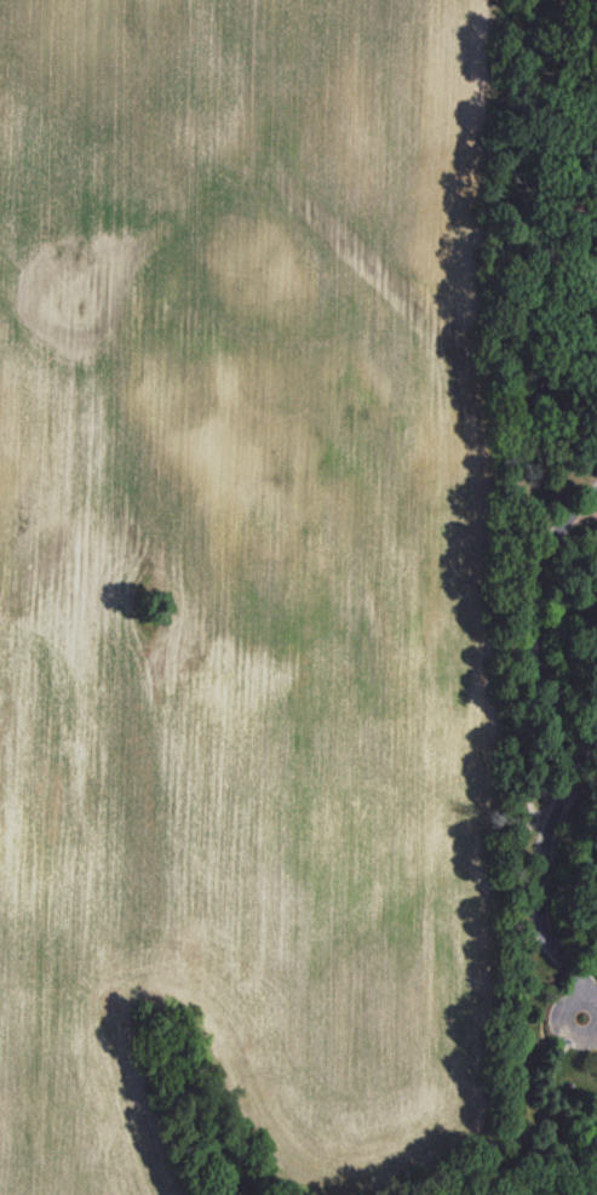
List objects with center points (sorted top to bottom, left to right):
road: (584, 176)
road: (593, 268)
road: (580, 741)
building: (596, 1062)

